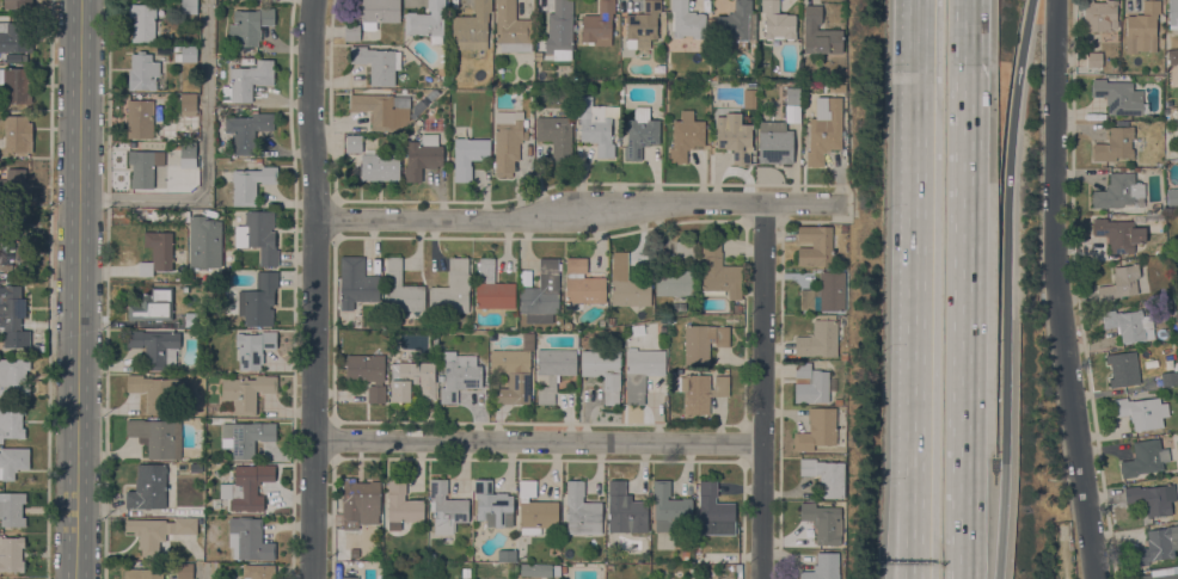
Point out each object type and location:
building: (17, 4)
building: (189, 6)
building: (379, 12)
building: (1173, 14)
building: (1098, 16)
building: (687, 20)
building: (142, 21)
building: (428, 21)
building: (597, 21)
building: (778, 21)
building: (249, 25)
building: (642, 25)
building: (734, 25)
building: (471, 26)
building: (511, 27)
building: (1142, 27)
building: (559, 31)
building: (351, 32)
building: (820, 33)
building: (12, 37)
building: (185, 53)
building: (13, 56)
building: (1172, 56)
building: (1093, 58)
building: (375, 63)
building: (1113, 67)
building: (142, 72)
building: (247, 80)
building: (16, 85)
building: (792, 94)
building: (1119, 97)
building: (750, 98)
building: (188, 104)
building: (375, 107)
building: (793, 113)
building: (140, 118)
building: (419, 122)
building: (596, 124)
building: (412, 128)
building: (247, 130)
building: (640, 133)
building: (17, 134)
building: (556, 136)
building: (685, 136)
building: (732, 138)
building: (508, 140)
building: (822, 141)
building: (774, 142)
building: (354, 143)
building: (1113, 144)
building: (188, 154)
building: (468, 155)
building: (422, 156)
road: (205, 162)
building: (143, 166)
building: (379, 167)
building: (17, 183)
building: (251, 183)
building: (1119, 192)
building: (1172, 196)
building: (1155, 207)
road: (582, 212)
building: (843, 229)
building: (1118, 234)
building: (258, 235)
road: (918, 240)
road: (1007, 240)
building: (204, 242)
building: (815, 245)
building: (10, 252)
building: (157, 252)
building: (718, 272)
building: (677, 273)
building: (523, 276)
building: (583, 282)
building: (356, 283)
building: (1119, 283)
building: (627, 284)
building: (492, 288)
road: (79, 289)
road: (314, 289)
building: (452, 289)
road: (967, 289)
building: (401, 290)
road: (1061, 290)
building: (826, 292)
building: (541, 294)
building: (258, 300)
building: (153, 304)
building: (11, 307)
building: (737, 308)
building: (191, 319)
building: (1129, 325)
building: (820, 338)
building: (702, 341)
building: (157, 347)
building: (253, 347)
building: (1123, 369)
building: (553, 370)
building: (513, 371)
building: (603, 371)
building: (640, 371)
building: (367, 374)
building: (459, 375)
building: (14, 376)
building: (1168, 377)
building: (412, 381)
building: (810, 383)
road: (765, 389)
building: (155, 390)
building: (700, 390)
building: (246, 392)
building: (1141, 411)
building: (11, 419)
building: (817, 429)
building: (157, 436)
building: (245, 437)
road: (538, 441)
building: (1145, 457)
building: (12, 461)
building: (191, 468)
building: (824, 475)
building: (148, 486)
building: (250, 486)
building: (1152, 498)
building: (360, 503)
building: (400, 504)
building: (492, 504)
building: (446, 507)
building: (625, 507)
building: (669, 507)
building: (11, 509)
building: (535, 509)
building: (581, 510)
building: (713, 510)
building: (823, 522)
road: (892, 526)
road: (914, 530)
building: (157, 531)
road: (995, 531)
building: (249, 540)
building: (1155, 546)
building: (354, 552)
building: (11, 554)
building: (823, 567)
building: (535, 568)
building: (184, 571)
road: (201, 572)
building: (258, 572)
building: (466, 572)
building: (142, 573)
building: (1160, 573)
building: (350, 577)

